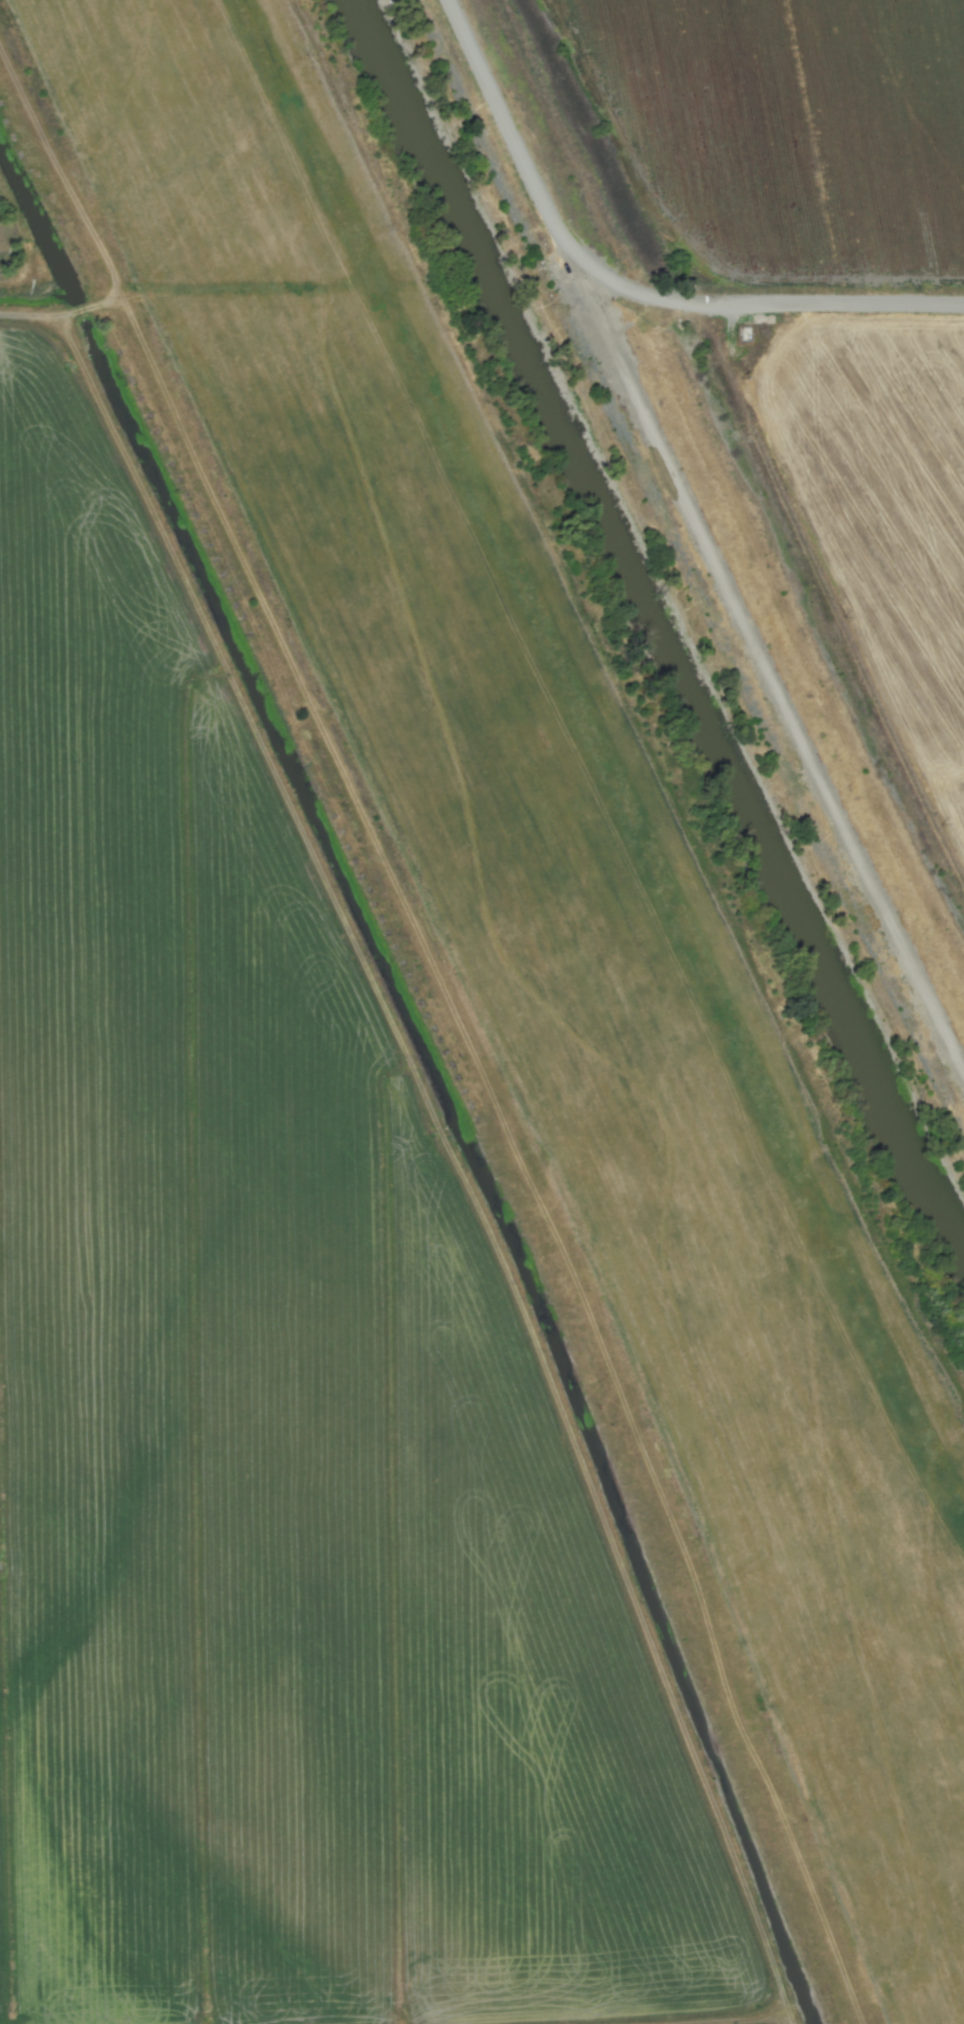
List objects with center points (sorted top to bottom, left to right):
crop: (829, 264)
road: (625, 284)
road: (760, 655)
crop: (405, 1173)
road: (723, 2020)

